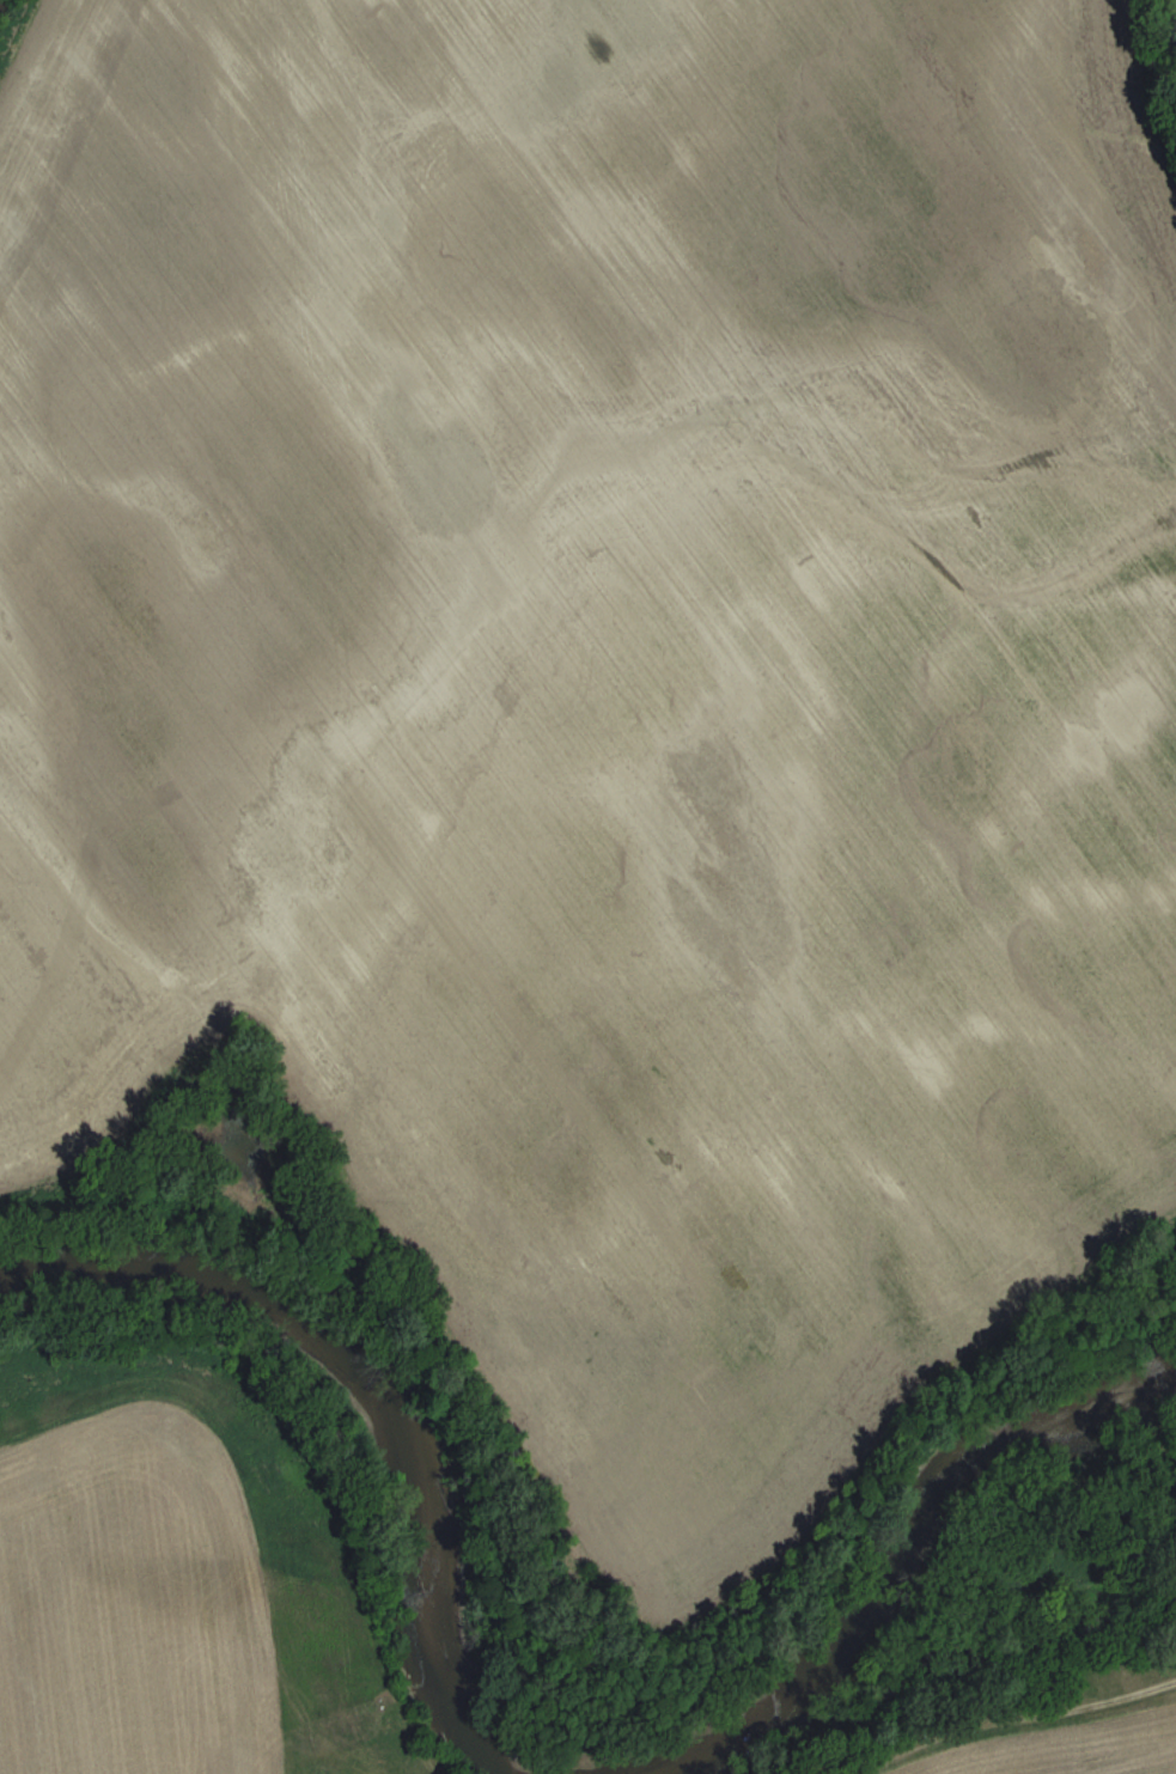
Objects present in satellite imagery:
river: (379, 1401)
river: (918, 1560)

